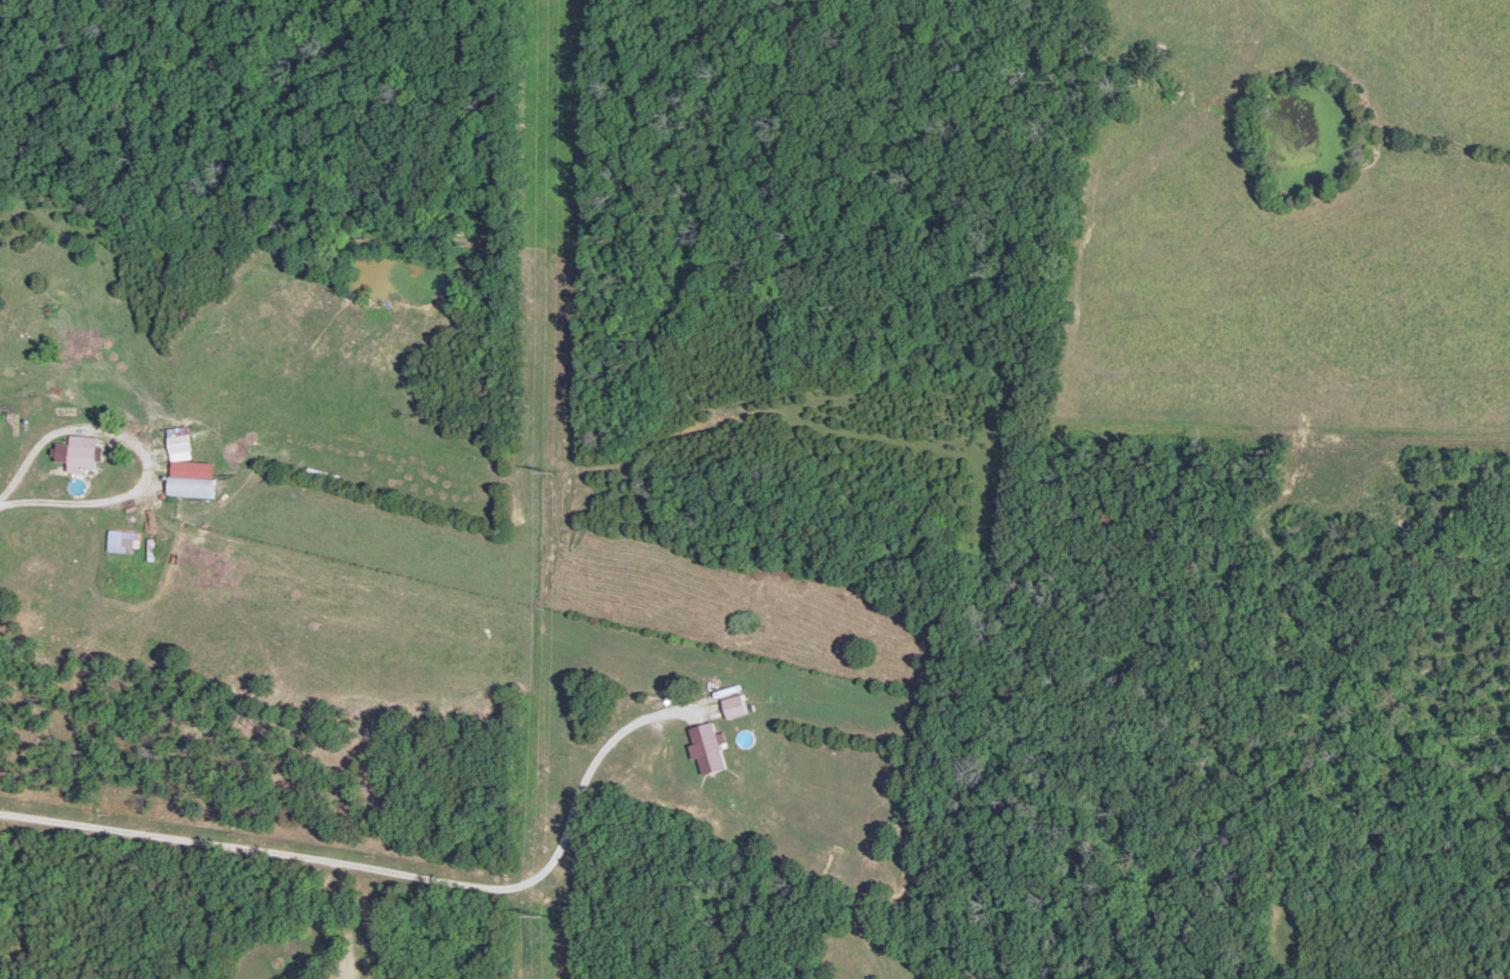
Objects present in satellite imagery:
road: (7, 326)
building: (87, 453)
road: (34, 465)
power tower: (551, 471)
building: (195, 486)
building: (123, 540)
building: (739, 706)
building: (712, 748)

